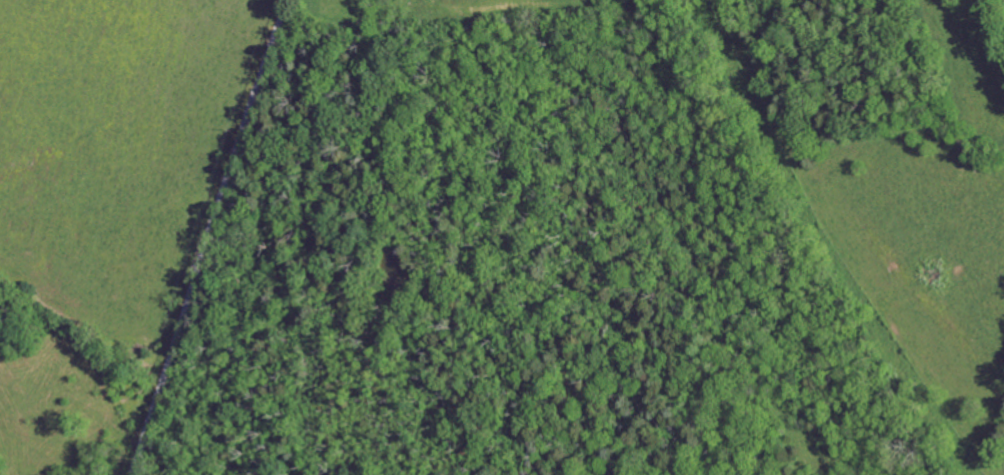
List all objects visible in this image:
road: (210, 237)

